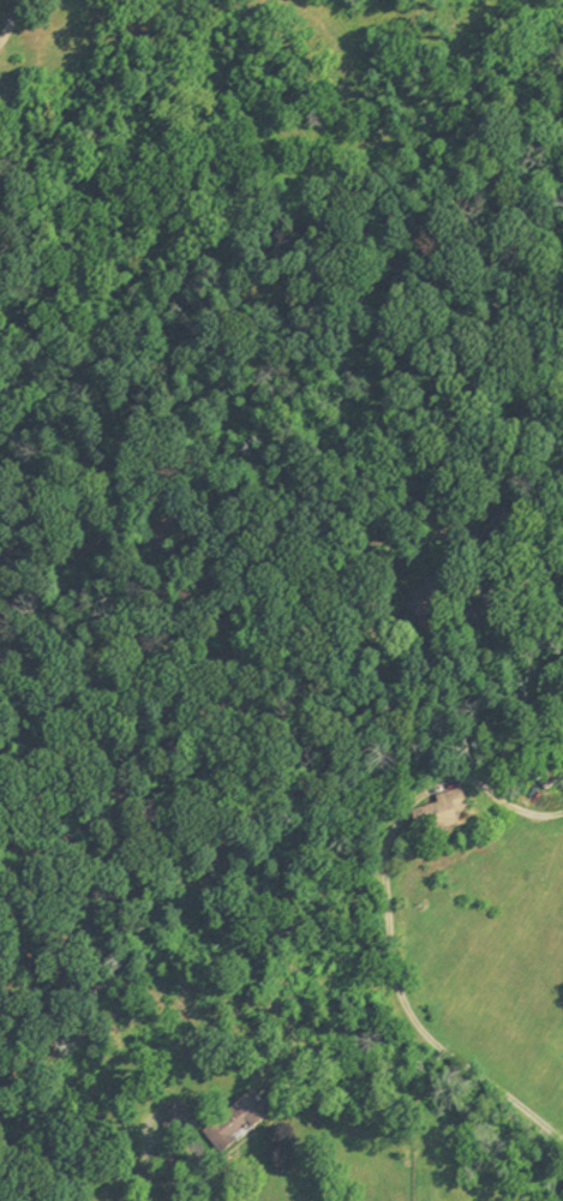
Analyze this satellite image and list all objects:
road: (12, 20)
road: (539, 593)
building: (558, 796)
building: (442, 817)
road: (388, 922)
building: (175, 1122)
building: (239, 1123)
road: (178, 1141)

